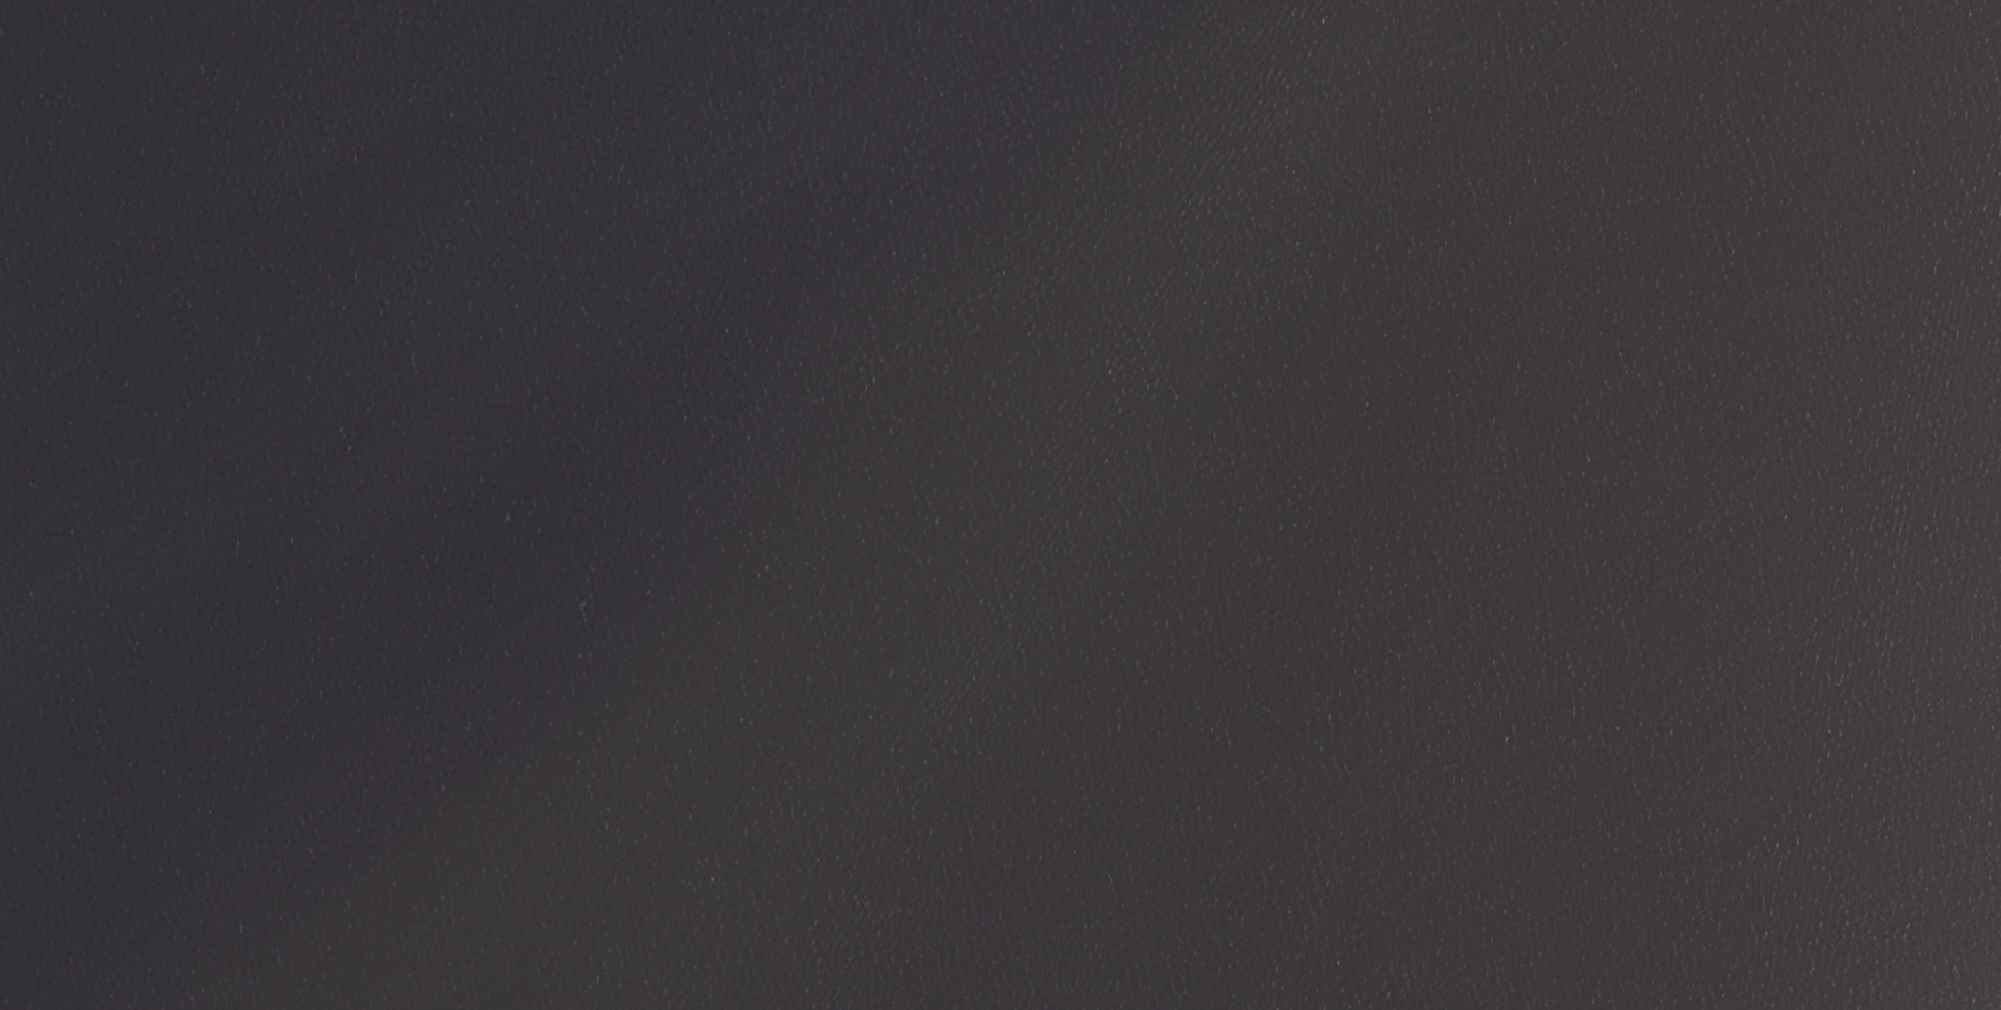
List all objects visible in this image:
river: (339, 452)

